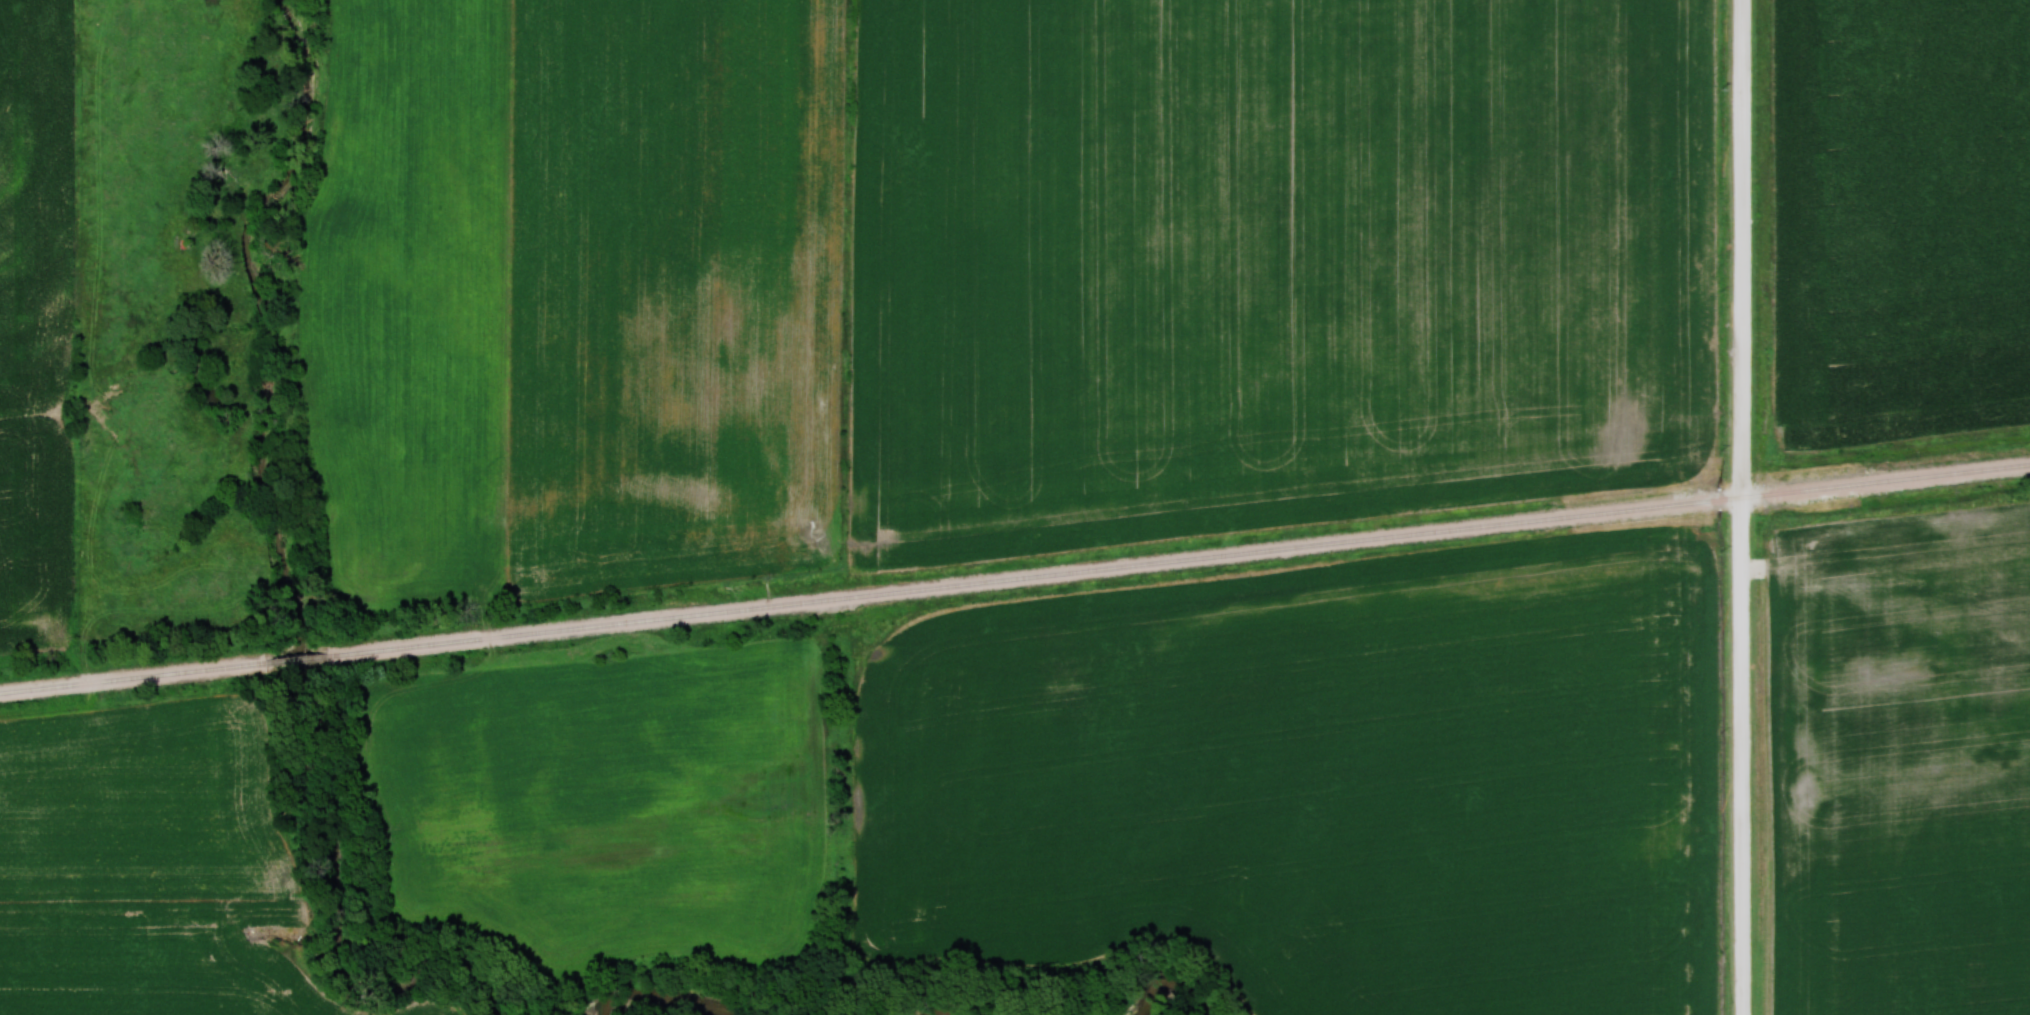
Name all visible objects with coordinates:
road: (1740, 507)
railway: (1014, 576)
river: (1160, 982)
river: (661, 994)
river: (944, 1009)

